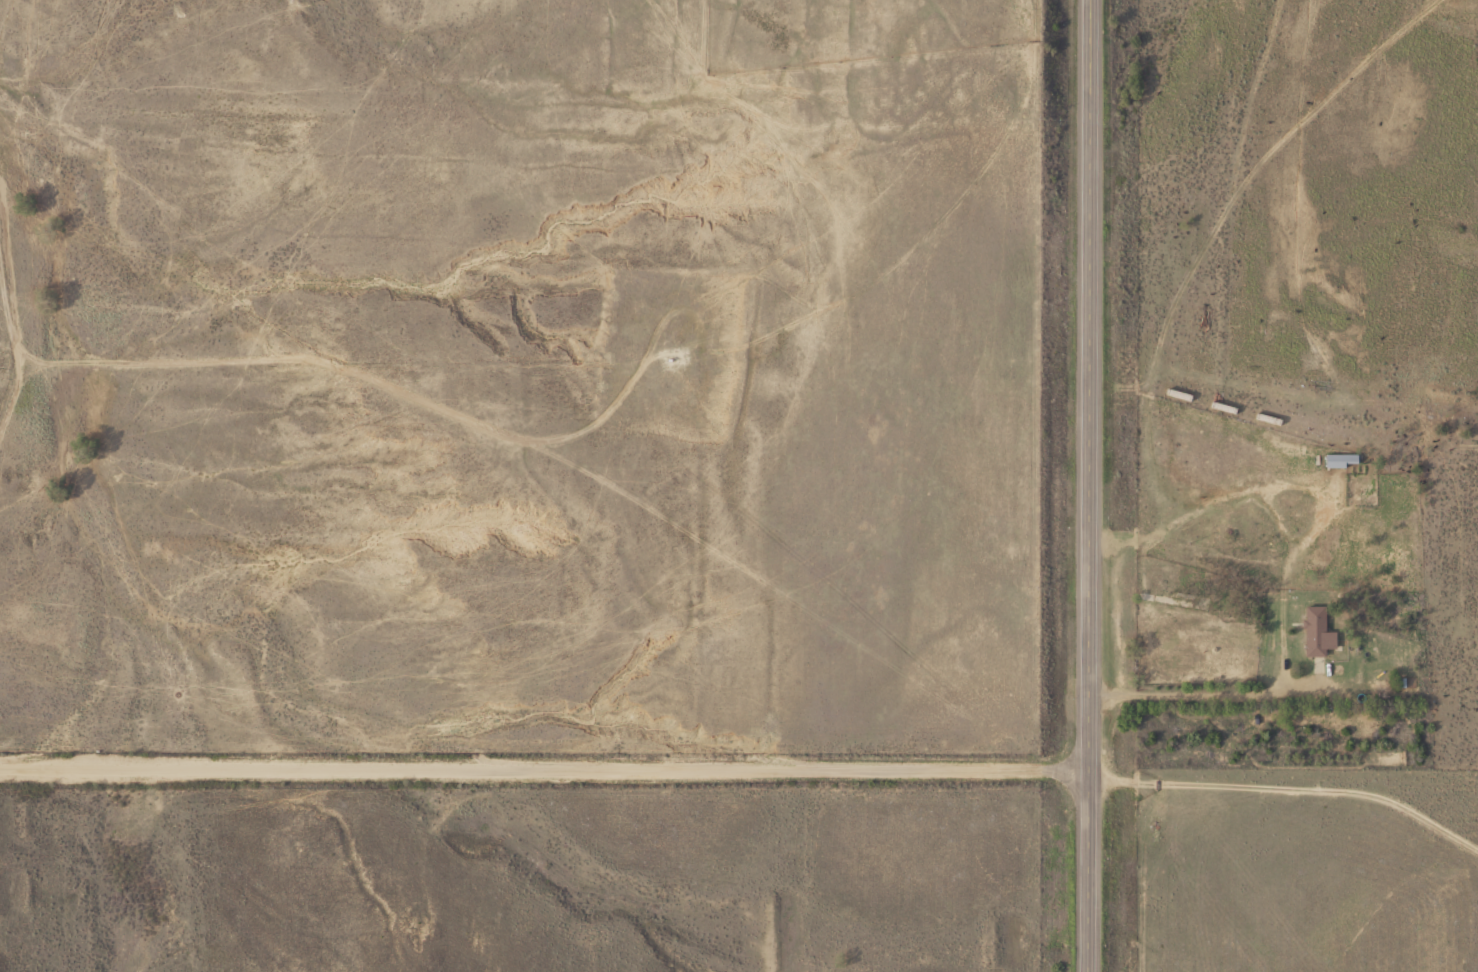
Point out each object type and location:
building: (1346, 460)
road: (1080, 485)
building: (1323, 632)
road: (539, 769)

